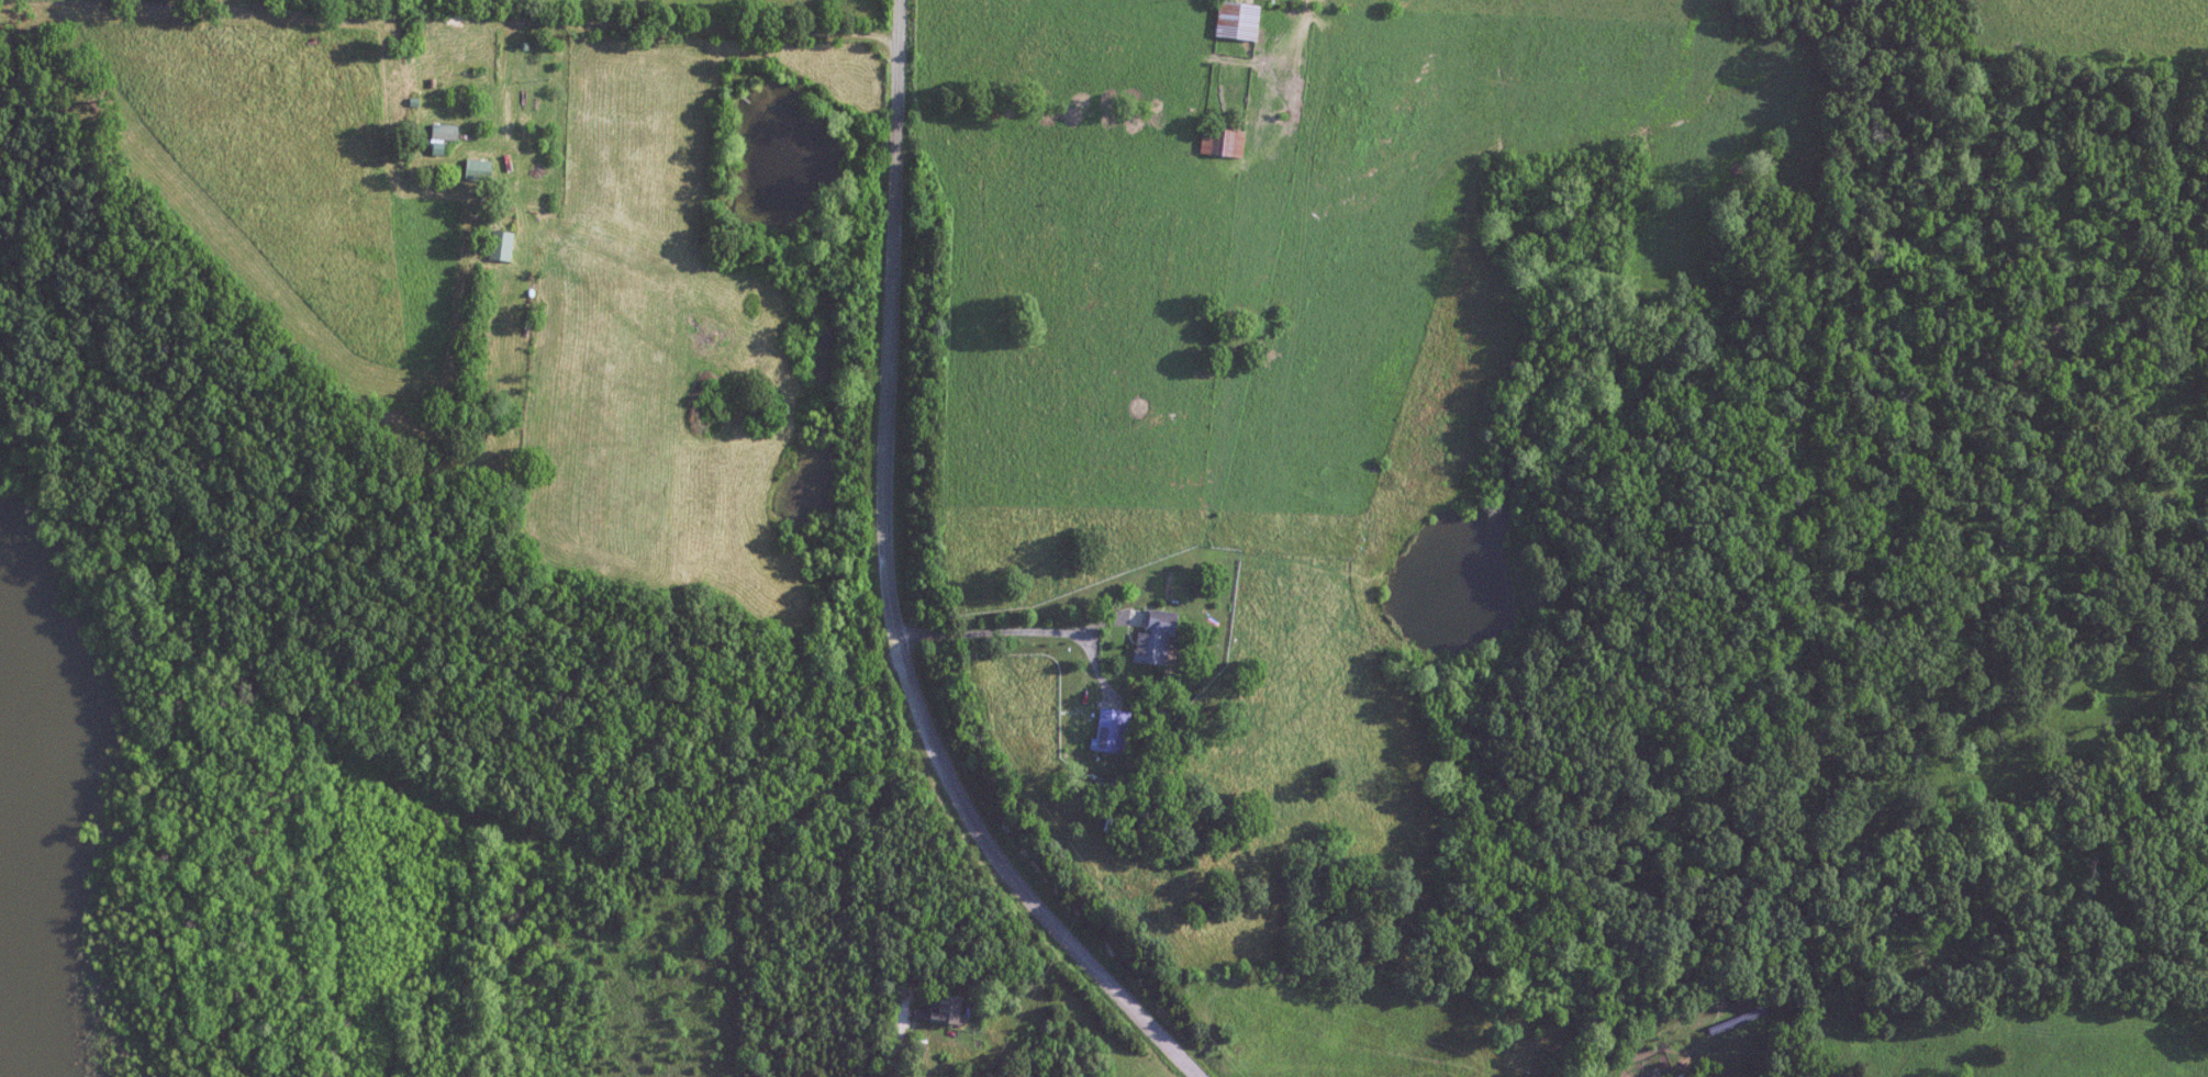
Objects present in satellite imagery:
building: (1239, 20)
road: (681, 27)
building: (450, 35)
road: (1300, 64)
building: (446, 132)
building: (1224, 142)
building: (480, 169)
building: (502, 245)
road: (889, 590)
road: (1021, 637)
building: (1159, 637)
building: (1112, 729)
building: (944, 1010)
road: (899, 1044)

